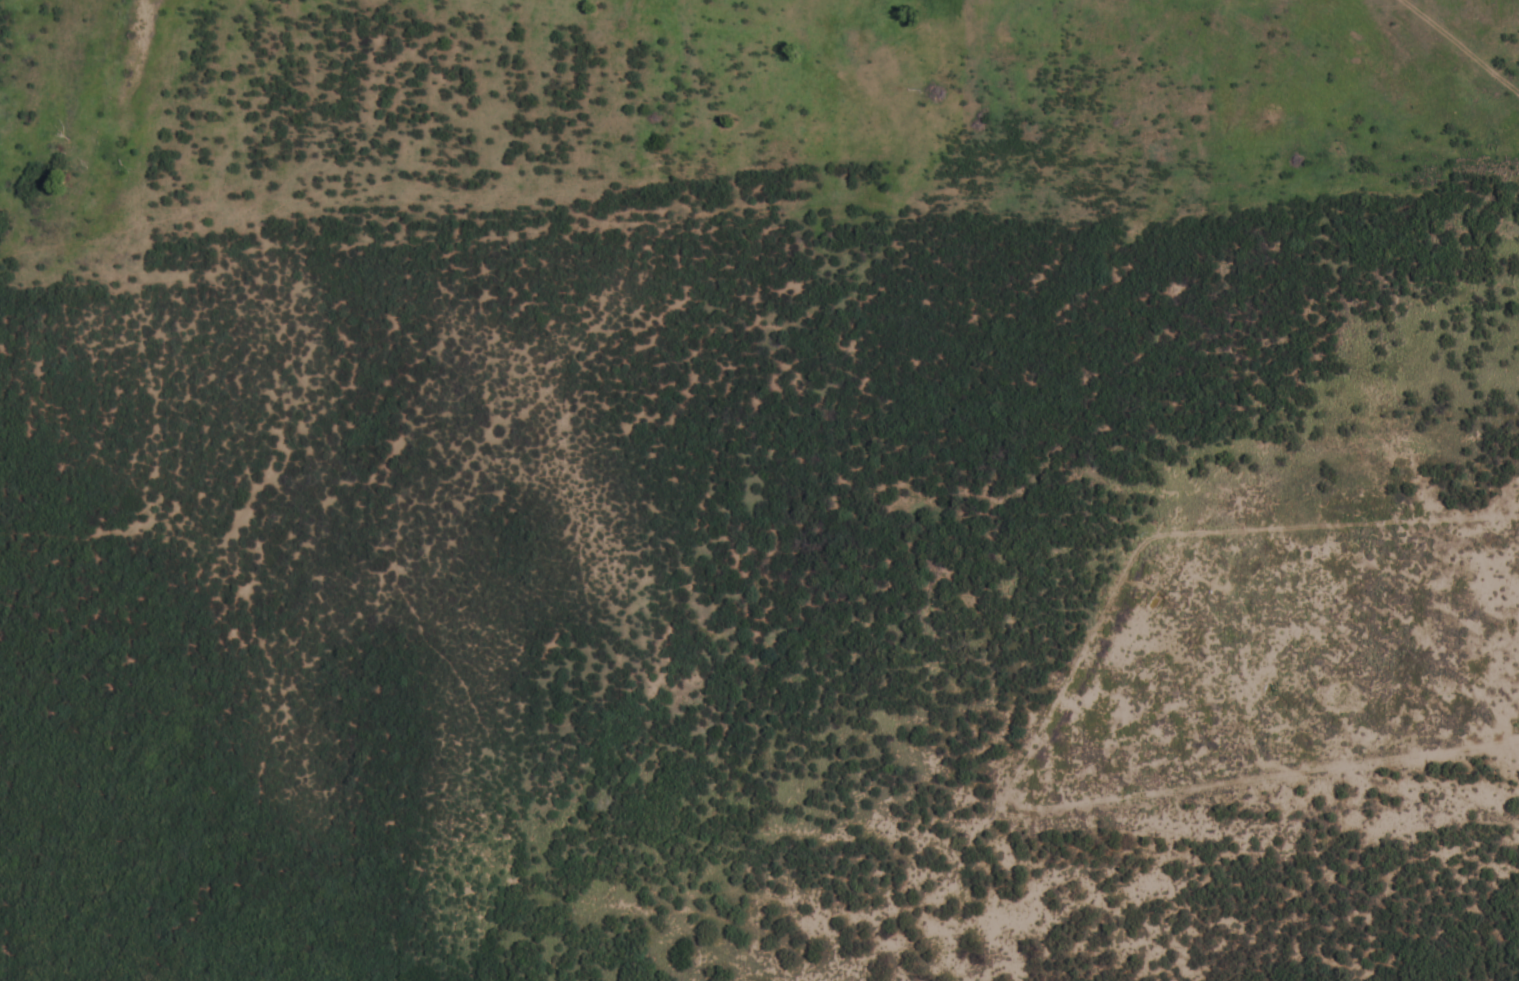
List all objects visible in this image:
road: (1333, 476)

